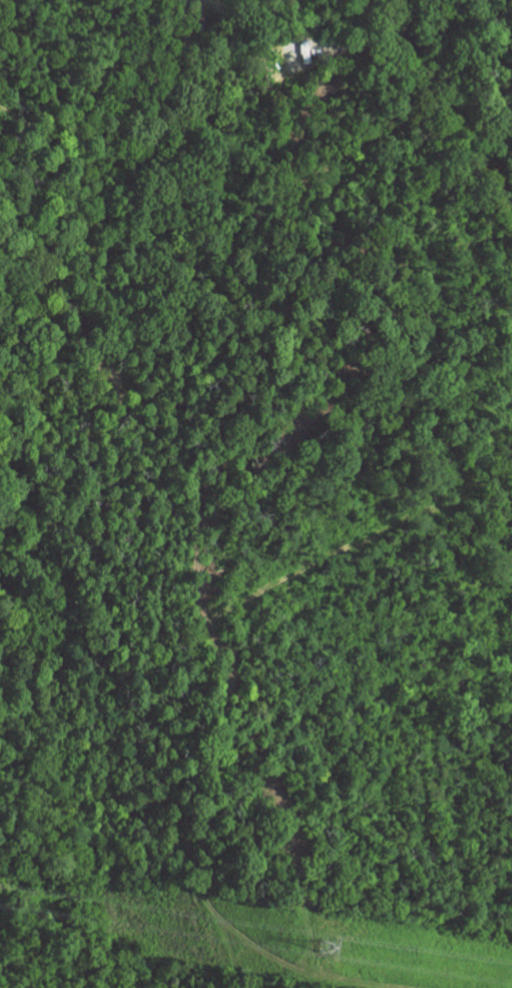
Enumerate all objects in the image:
power tower: (309, 955)

